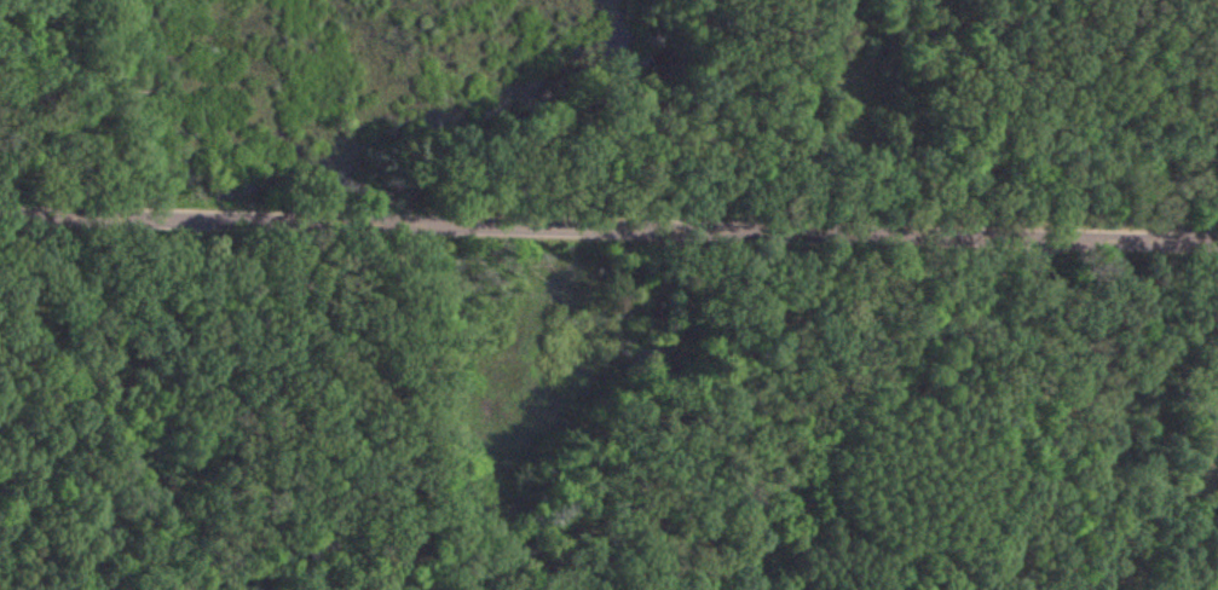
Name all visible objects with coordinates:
road: (608, 186)
road: (831, 359)

